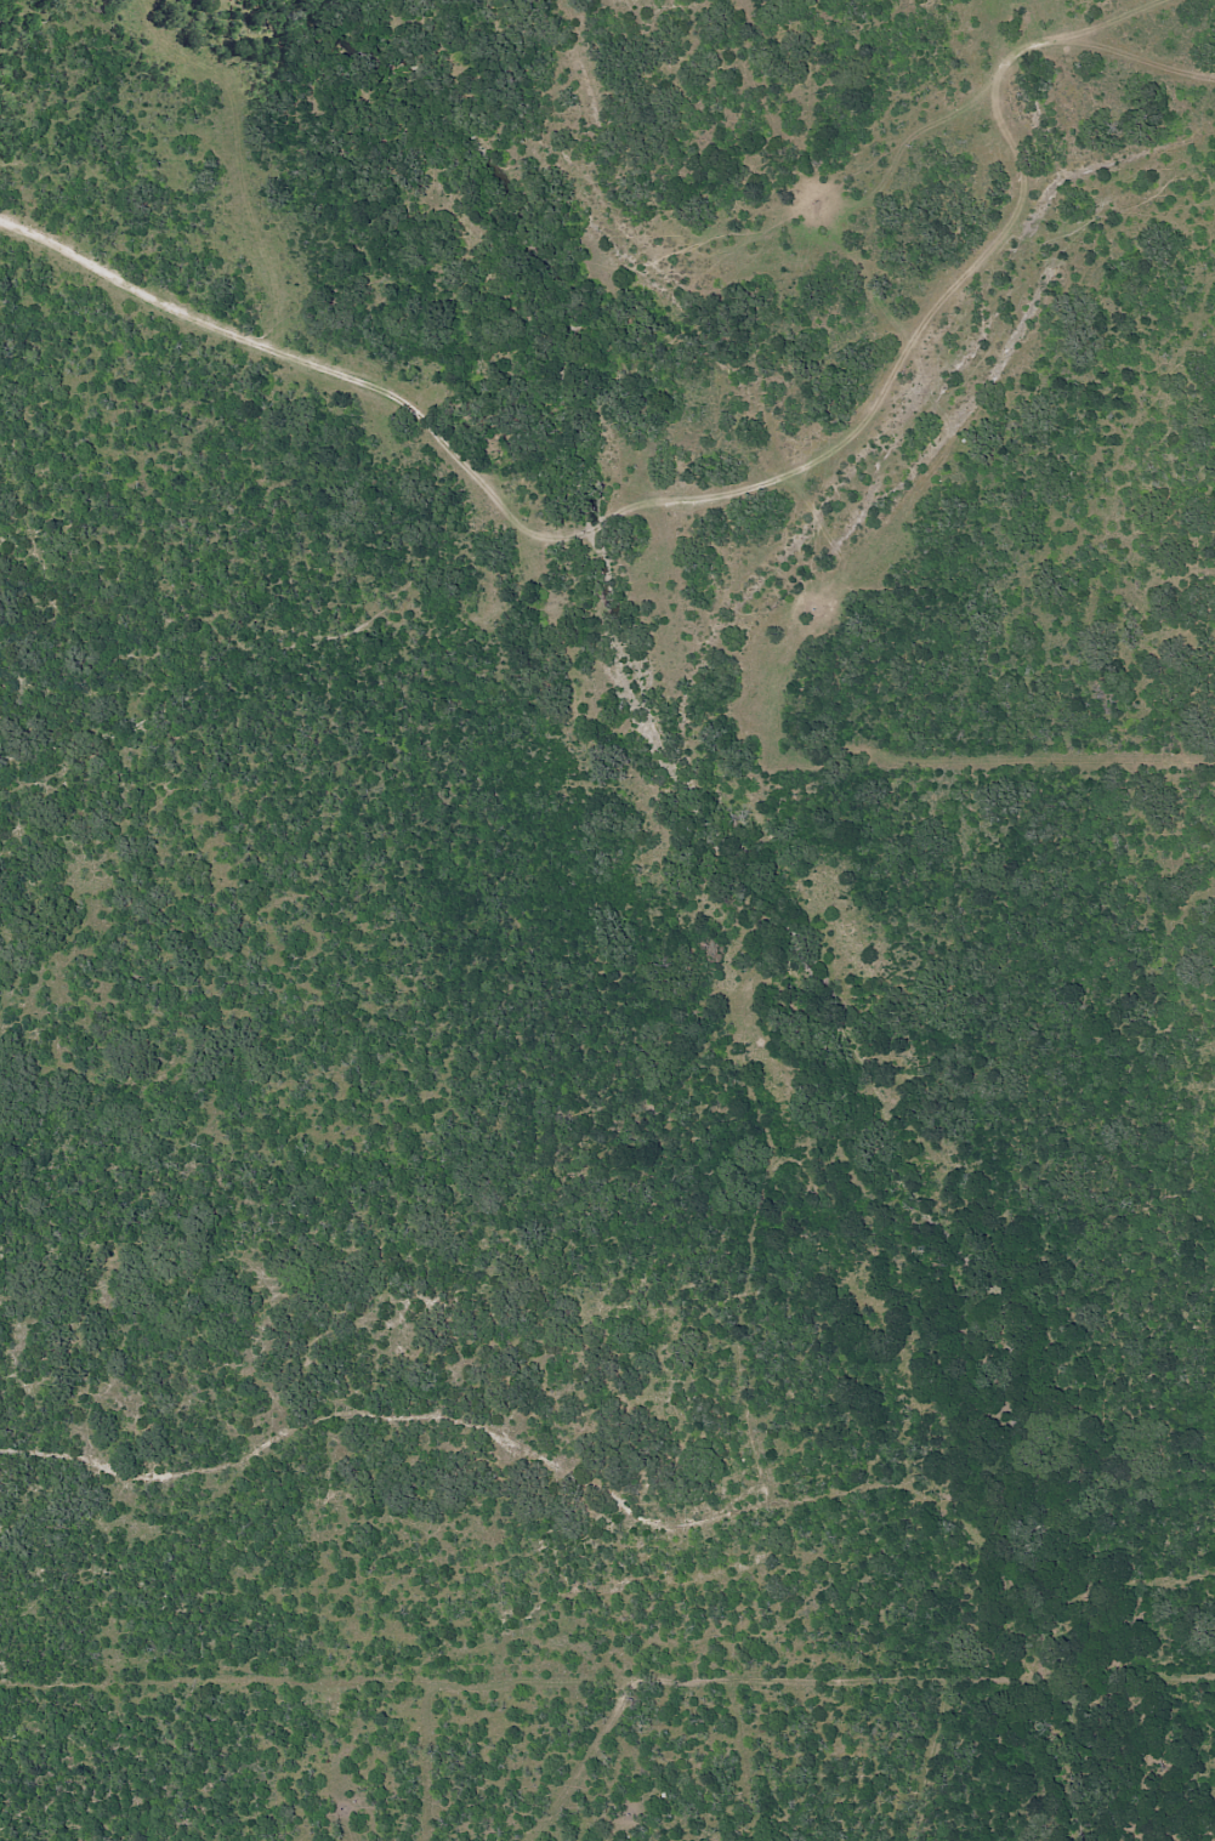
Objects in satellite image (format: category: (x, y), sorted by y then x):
road: (687, 471)
road: (618, 1525)

